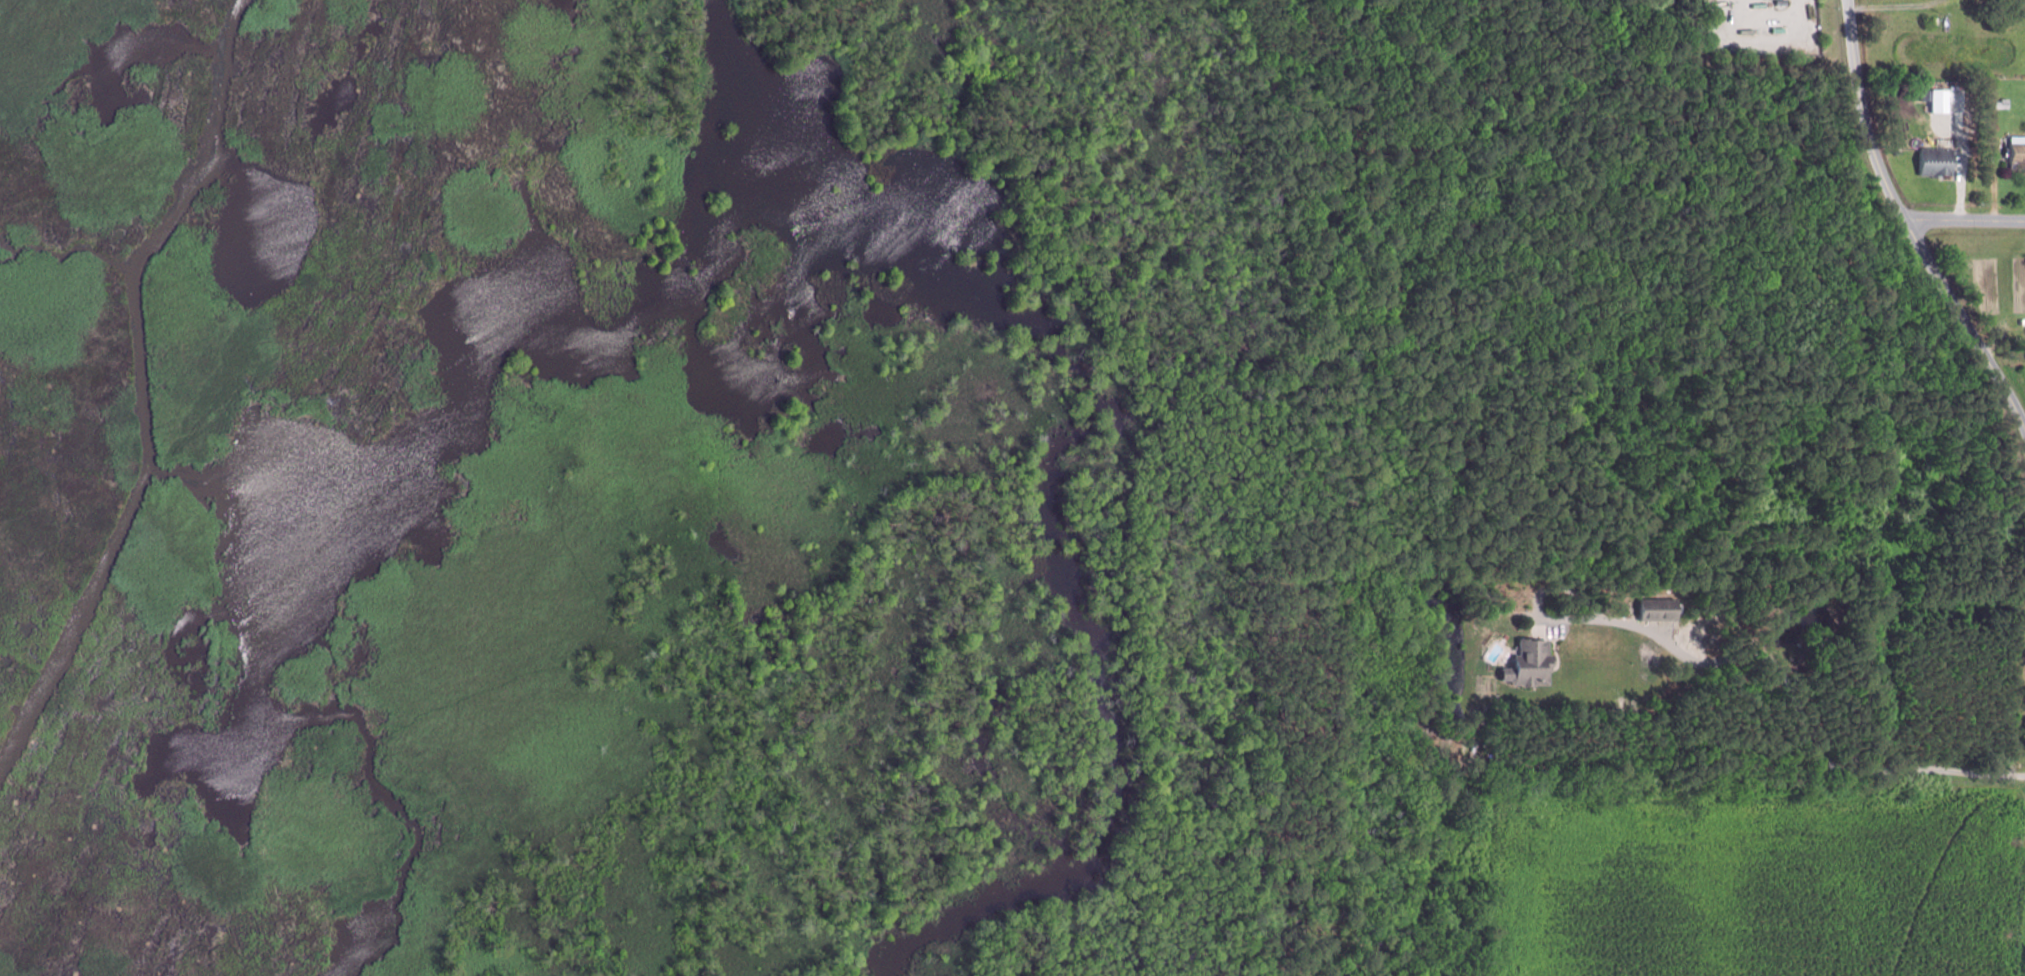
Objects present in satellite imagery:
building: (1781, 2)
road: (1891, 4)
road: (1766, 18)
road: (1768, 45)
building: (1921, 94)
building: (1942, 99)
building: (2003, 102)
building: (2018, 151)
building: (1937, 161)
road: (1992, 174)
road: (1960, 175)
road: (1964, 219)
road: (1906, 224)
building: (1659, 609)
building: (1531, 663)
road: (1792, 692)

